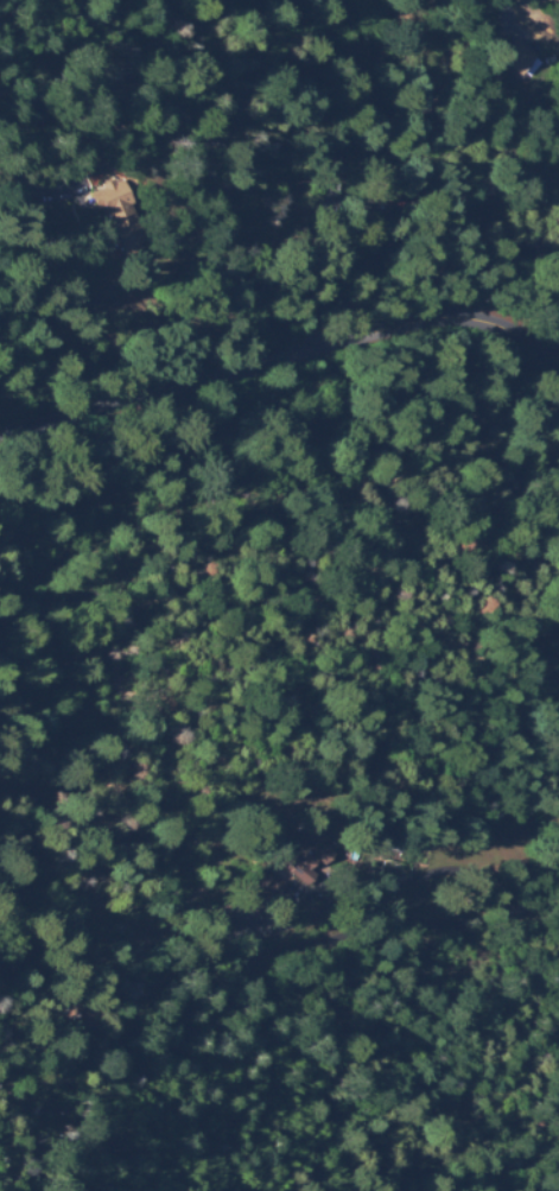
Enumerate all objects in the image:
building: (522, 56)
road: (526, 161)
building: (120, 211)
road: (280, 369)
building: (488, 828)
building: (309, 855)
building: (266, 891)

